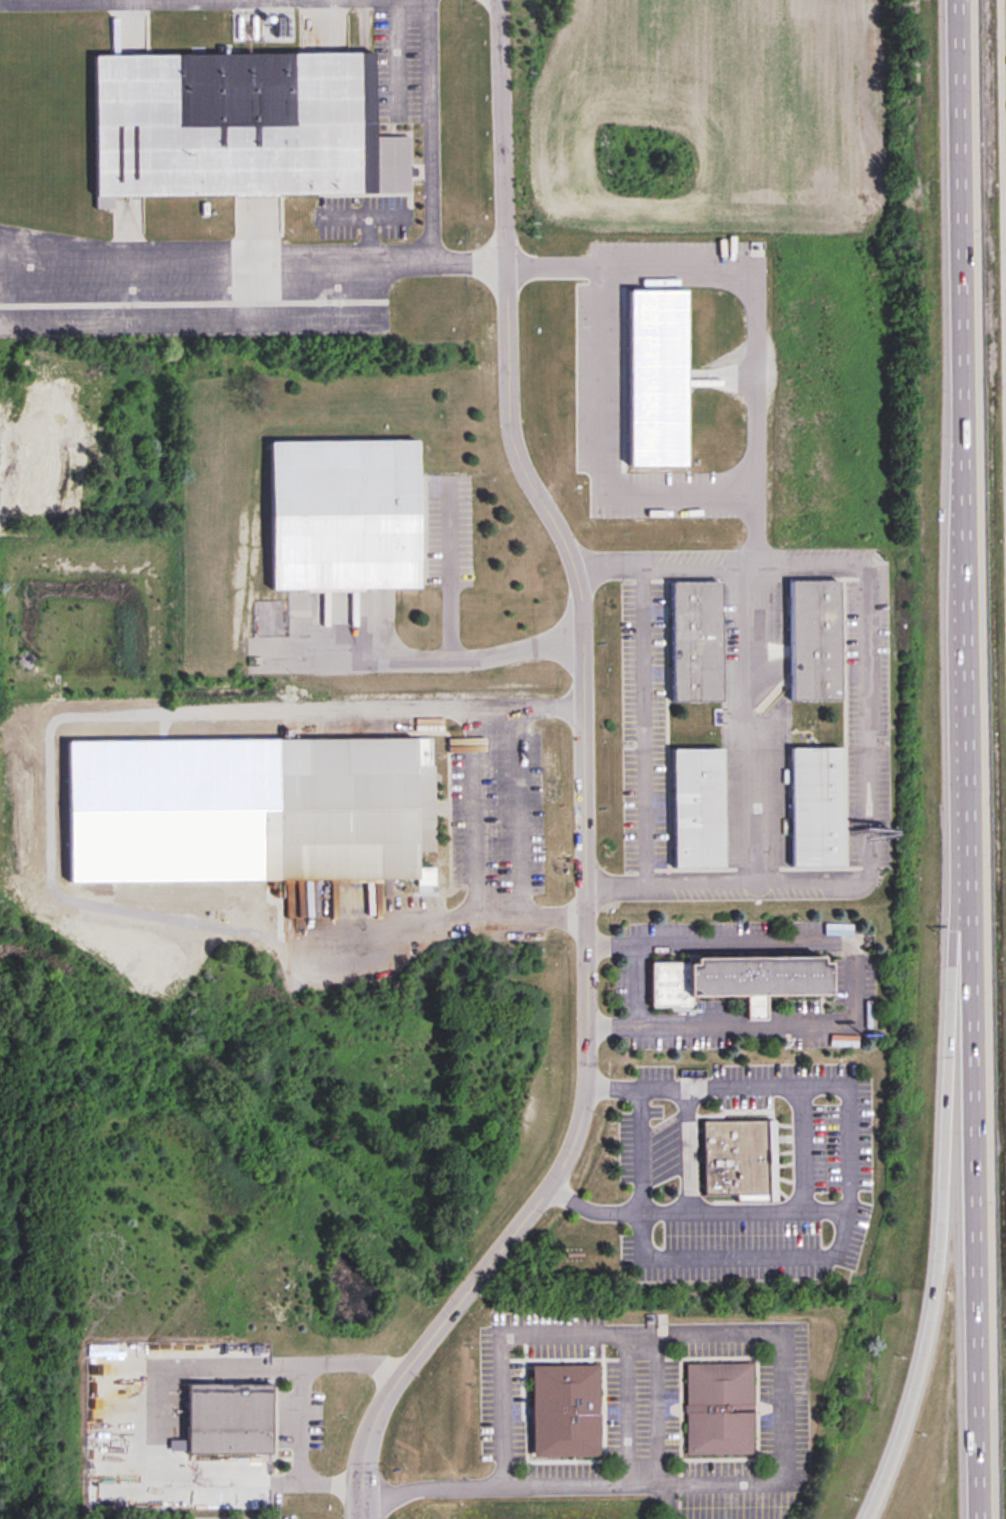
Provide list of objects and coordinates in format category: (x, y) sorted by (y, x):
building: (239, 127)
road: (430, 167)
road: (215, 260)
road: (753, 290)
building: (662, 376)
road: (600, 453)
building: (343, 516)
road: (451, 572)
building: (814, 642)
building: (695, 643)
road: (429, 659)
road: (582, 669)
road: (866, 711)
road: (753, 720)
road: (640, 721)
road: (965, 759)
building: (816, 809)
building: (351, 810)
building: (697, 810)
road: (480, 812)
building: (734, 977)
road: (848, 982)
road: (637, 983)
road: (640, 1147)
building: (737, 1159)
road: (843, 1160)
road: (589, 1208)
road: (701, 1210)
road: (661, 1211)
road: (936, 1234)
road: (705, 1330)
road: (352, 1361)
road: (381, 1405)
building: (717, 1409)
building: (564, 1410)
road: (158, 1411)
building: (227, 1418)
road: (299, 1424)
road: (532, 1484)
road: (332, 1486)

